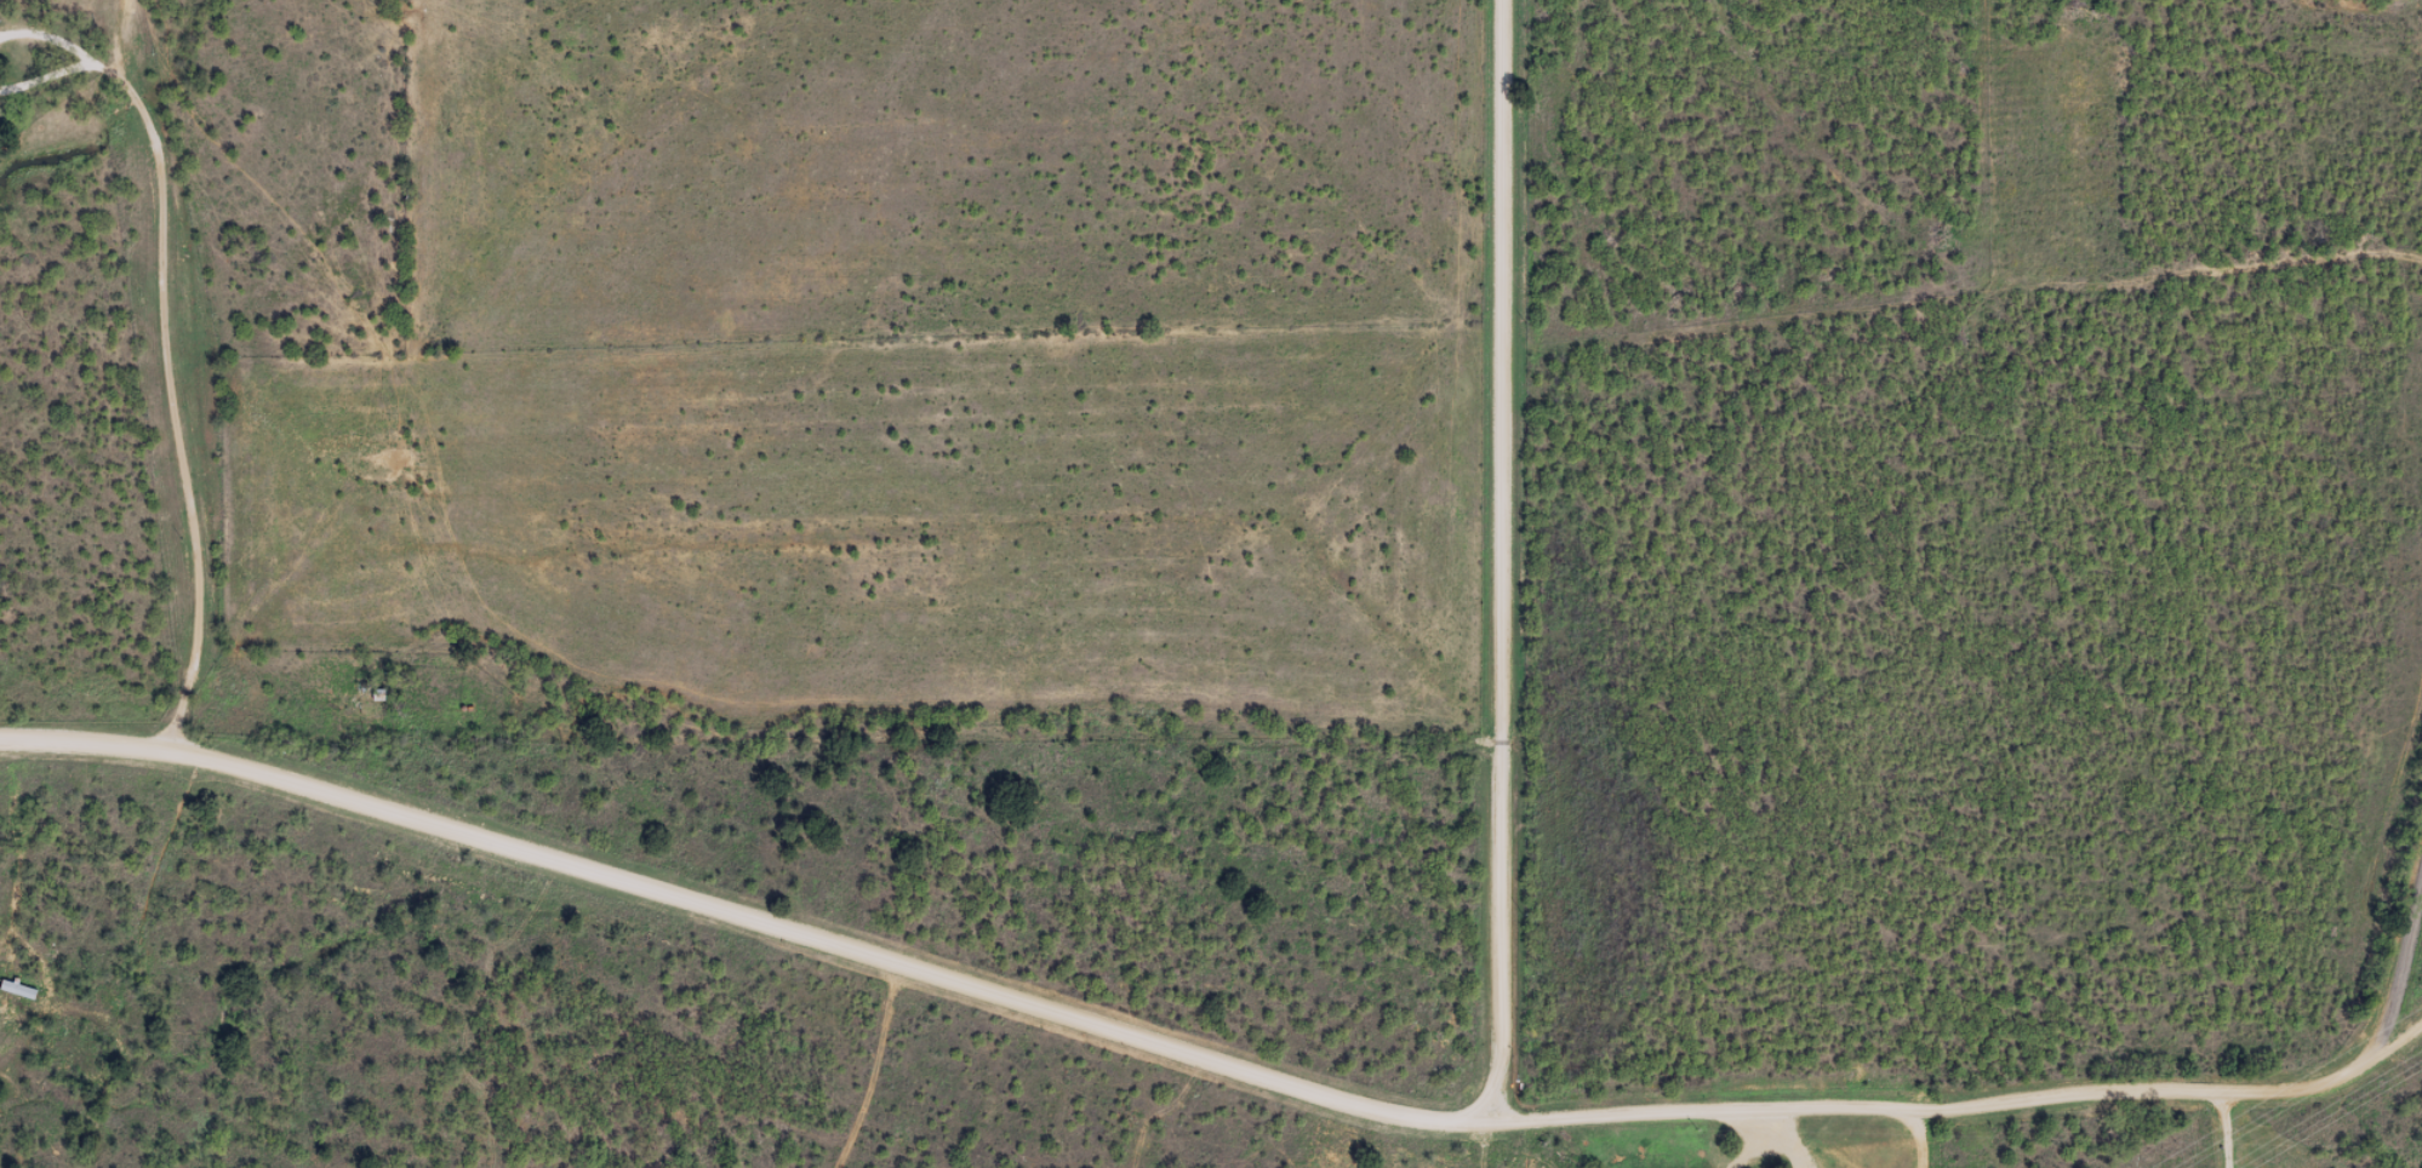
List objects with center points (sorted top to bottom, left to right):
road: (190, 370)
road: (1529, 560)
road: (90, 751)
road: (899, 973)
road: (373, 989)
road: (2421, 1008)
road: (1998, 1099)

